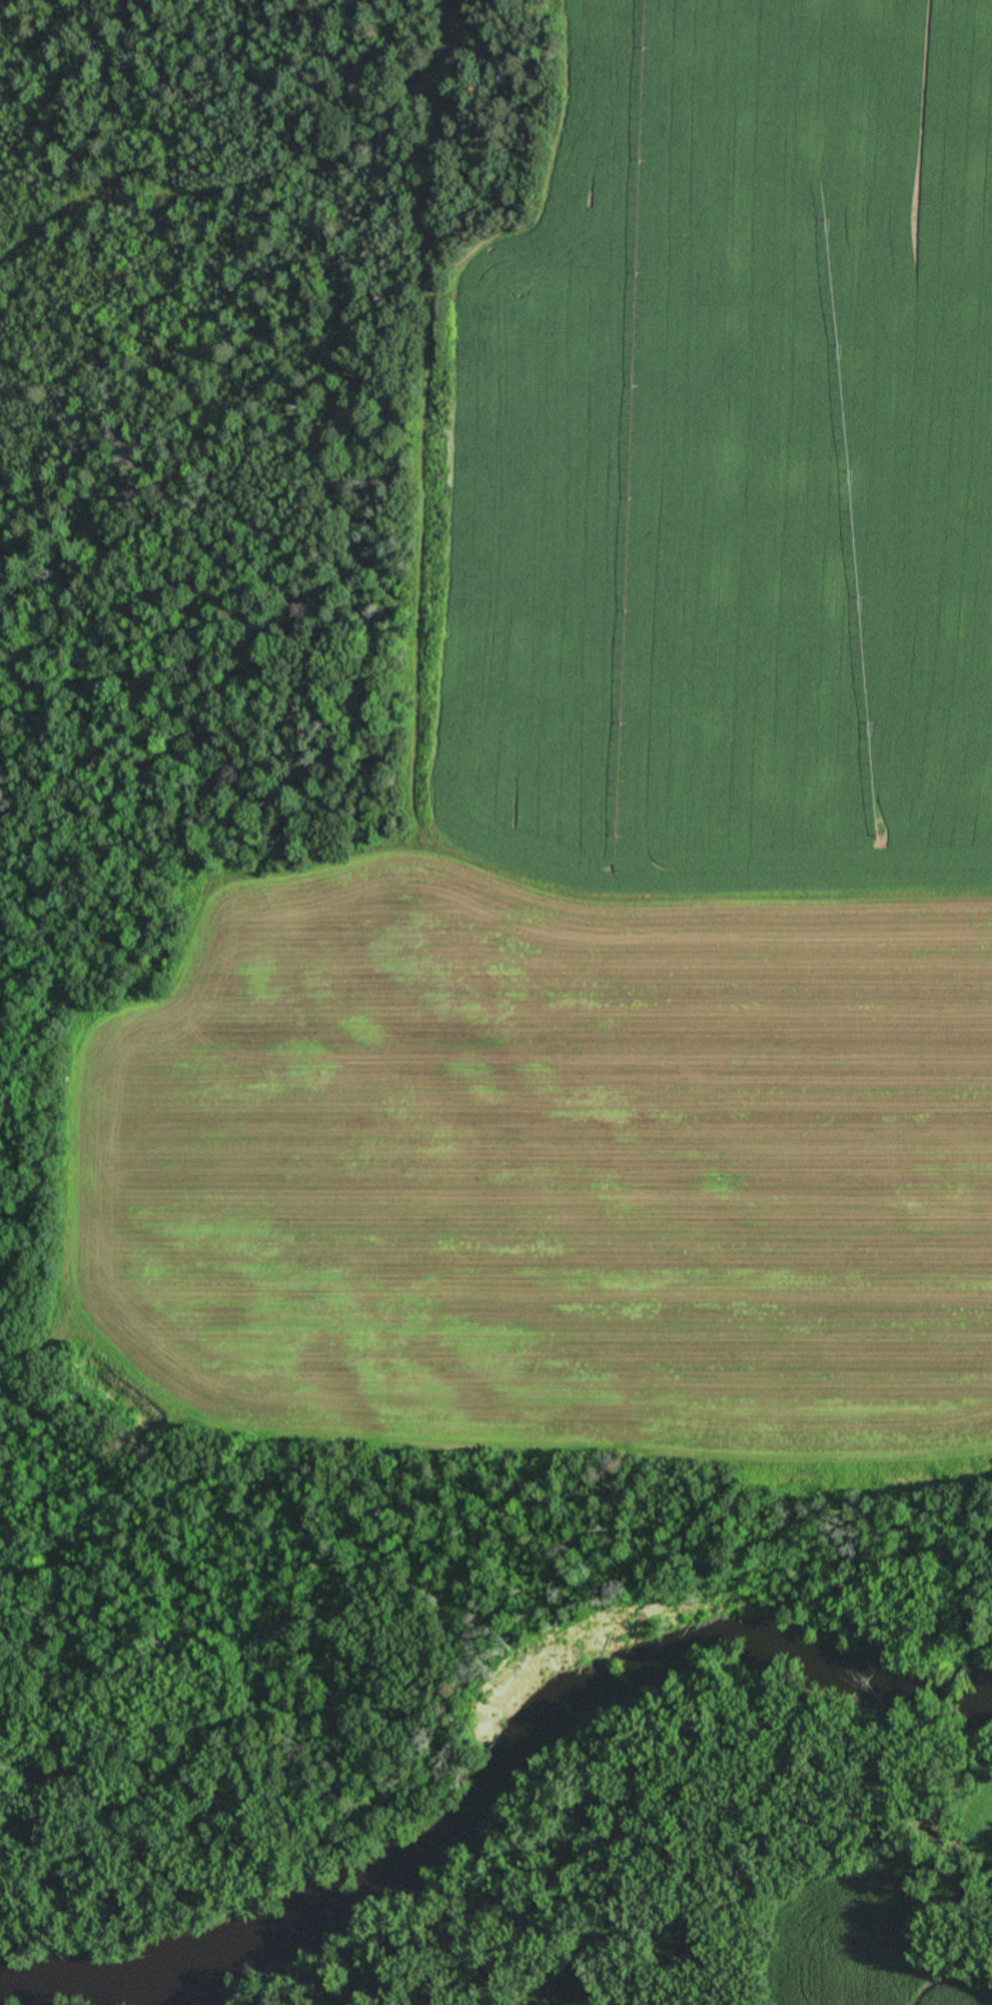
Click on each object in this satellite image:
river: (509, 1794)

